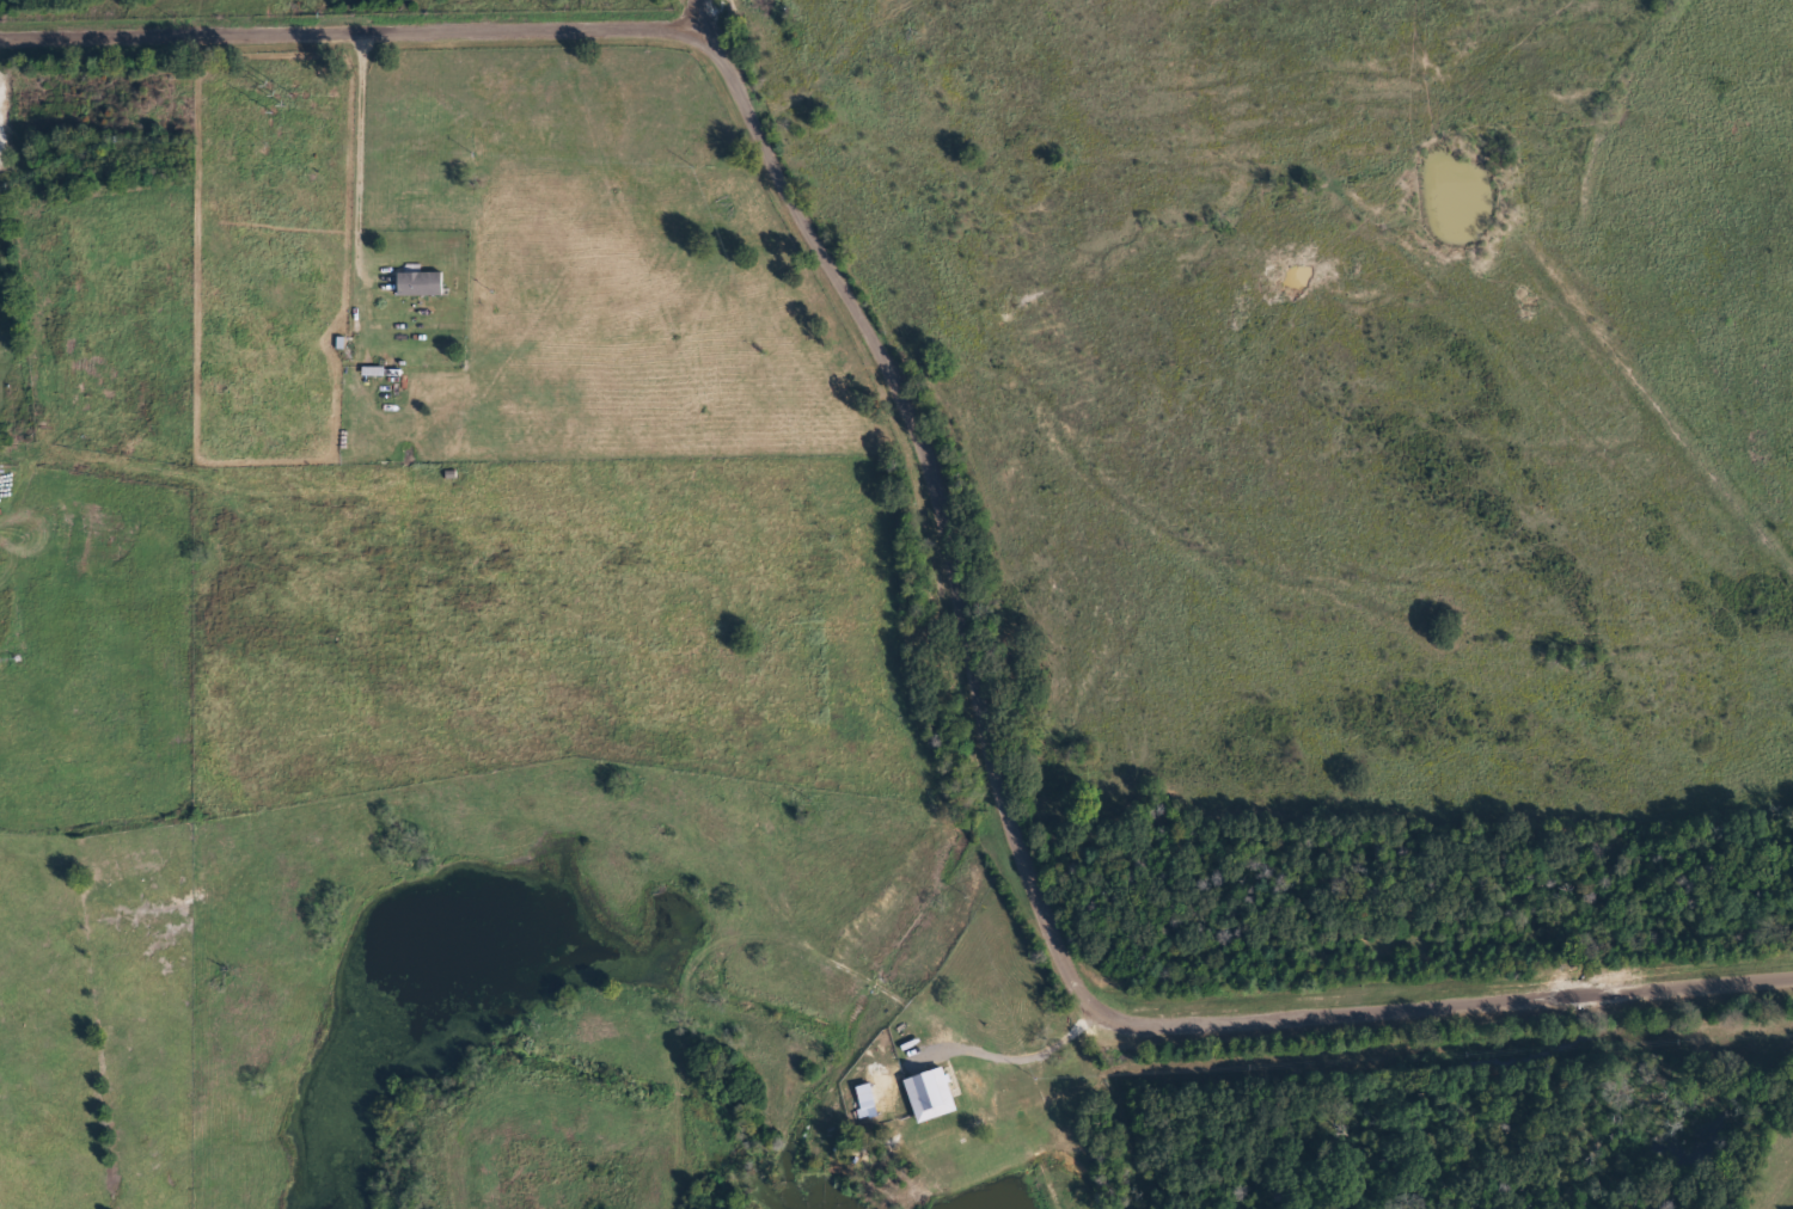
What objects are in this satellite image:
road: (705, 8)
road: (409, 18)
building: (426, 286)
road: (959, 558)
road: (1471, 1001)
building: (929, 1096)

